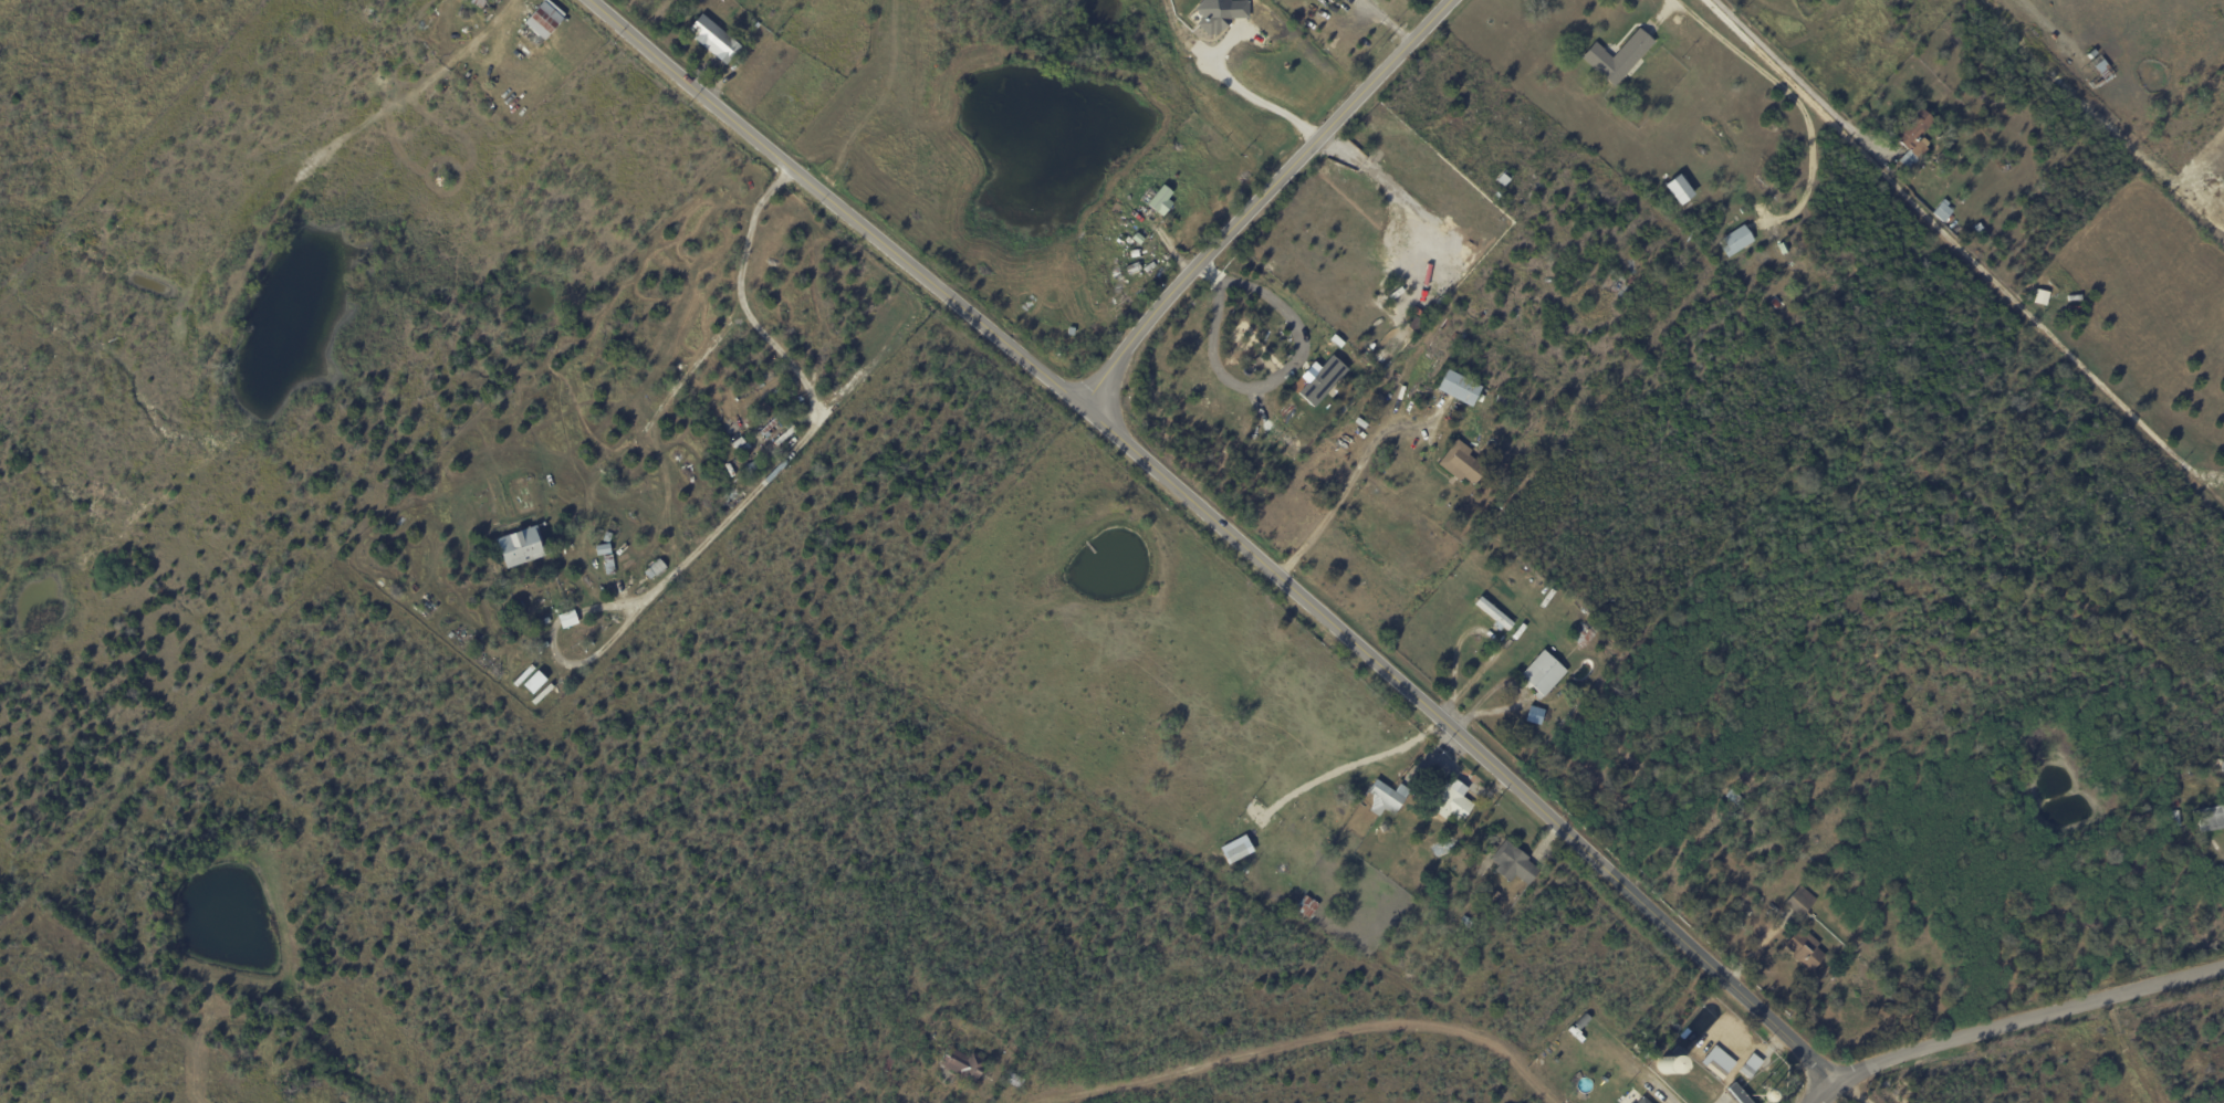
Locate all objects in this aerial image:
building: (477, 3)
building: (1220, 13)
building: (543, 22)
road: (2048, 22)
building: (744, 33)
building: (713, 39)
building: (2092, 55)
building: (1619, 56)
building: (2099, 72)
road: (1797, 78)
road: (1793, 94)
road: (1256, 99)
building: (1482, 135)
building: (1911, 137)
road: (1340, 149)
building: (1940, 158)
building: (1247, 175)
building: (1501, 177)
building: (1680, 188)
road: (1400, 195)
building: (1500, 195)
road: (1260, 198)
building: (1161, 201)
building: (1943, 210)
building: (1978, 227)
building: (1737, 240)
road: (1953, 245)
building: (1614, 283)
building: (2075, 297)
building: (1776, 302)
building: (1320, 380)
building: (1459, 388)
building: (1502, 401)
road: (810, 426)
building: (1368, 428)
building: (784, 434)
building: (1462, 463)
road: (1345, 483)
road: (1223, 527)
building: (609, 531)
building: (519, 547)
building: (604, 549)
building: (609, 564)
building: (657, 567)
building: (1495, 616)
building: (566, 619)
building: (547, 620)
building: (536, 622)
building: (451, 635)
building: (1586, 635)
building: (543, 645)
building: (1544, 674)
building: (2223, 767)
building: (1777, 779)
building: (1380, 799)
building: (1737, 800)
building: (2176, 802)
building: (1452, 803)
building: (2212, 818)
building: (2176, 819)
building: (1298, 820)
building: (1444, 848)
building: (1234, 852)
building: (1515, 864)
building: (1494, 896)
building: (1800, 901)
building: (1306, 905)
building: (1468, 922)
building: (1810, 923)
building: (1805, 950)
building: (1891, 994)
road: (2027, 1018)
building: (1584, 1022)
road: (1315, 1037)
building: (1653, 1049)
building: (889, 1063)
building: (962, 1064)
building: (1716, 1071)
building: (1747, 1072)
building: (1013, 1080)
road: (1825, 1092)
road: (1851, 1092)
building: (1736, 1094)
building: (1643, 1101)
road: (1669, 1102)

